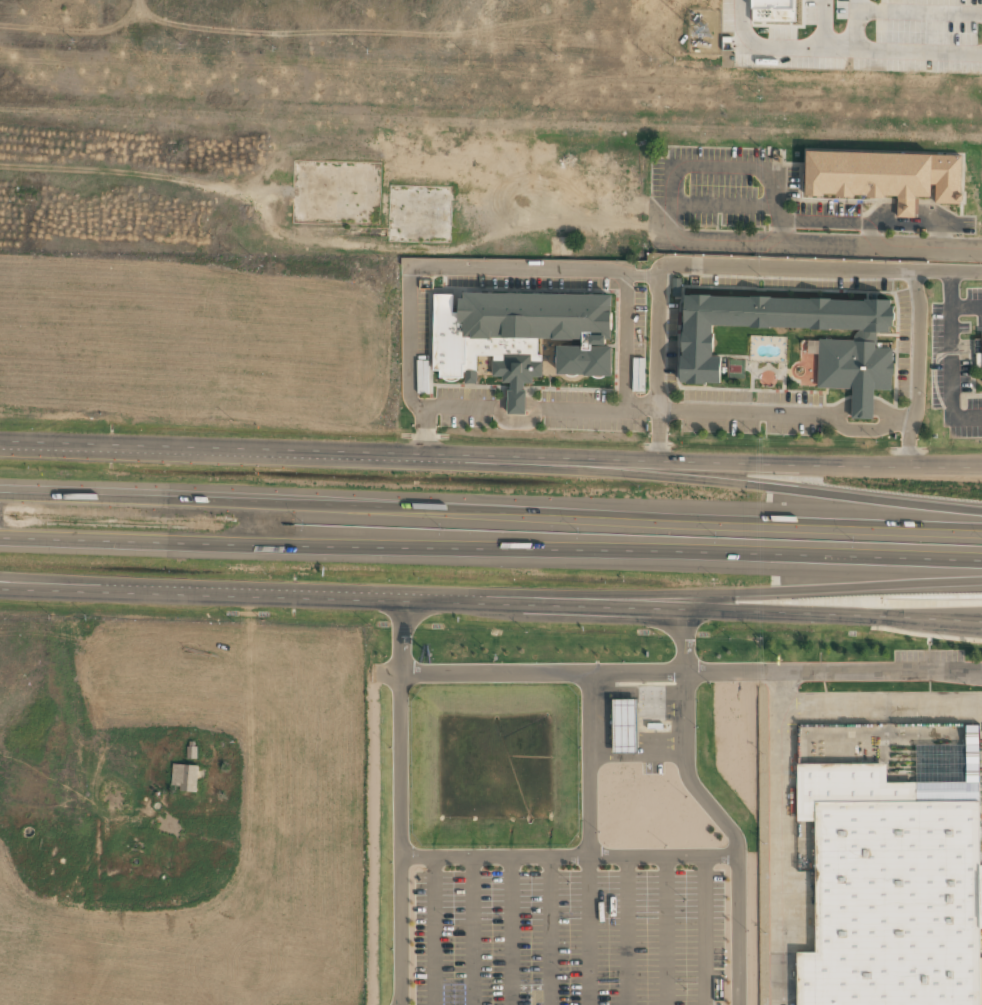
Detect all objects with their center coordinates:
building: (774, 10)
building: (905, 14)
building: (887, 175)
building: (334, 191)
building: (419, 213)
road: (789, 245)
building: (520, 336)
building: (854, 357)
building: (978, 357)
road: (216, 446)
road: (703, 462)
road: (978, 465)
road: (707, 479)
road: (491, 501)
road: (490, 555)
road: (27, 586)
road: (27, 589)
road: (246, 595)
road: (710, 595)
road: (676, 608)
road: (948, 619)
road: (397, 635)
road: (681, 639)
road: (561, 671)
building: (623, 726)
gas station: (623, 726)
building: (184, 776)
road: (730, 830)
road: (397, 837)
road: (588, 838)
road: (564, 853)
building: (891, 862)
road: (703, 928)
road: (470, 929)
road: (510, 929)
road: (550, 929)
road: (433, 930)

